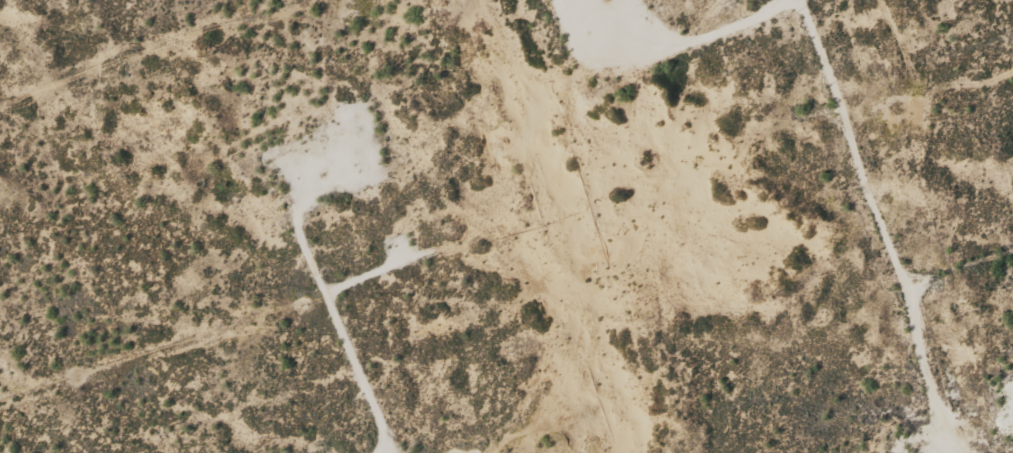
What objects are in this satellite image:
road: (895, 221)

